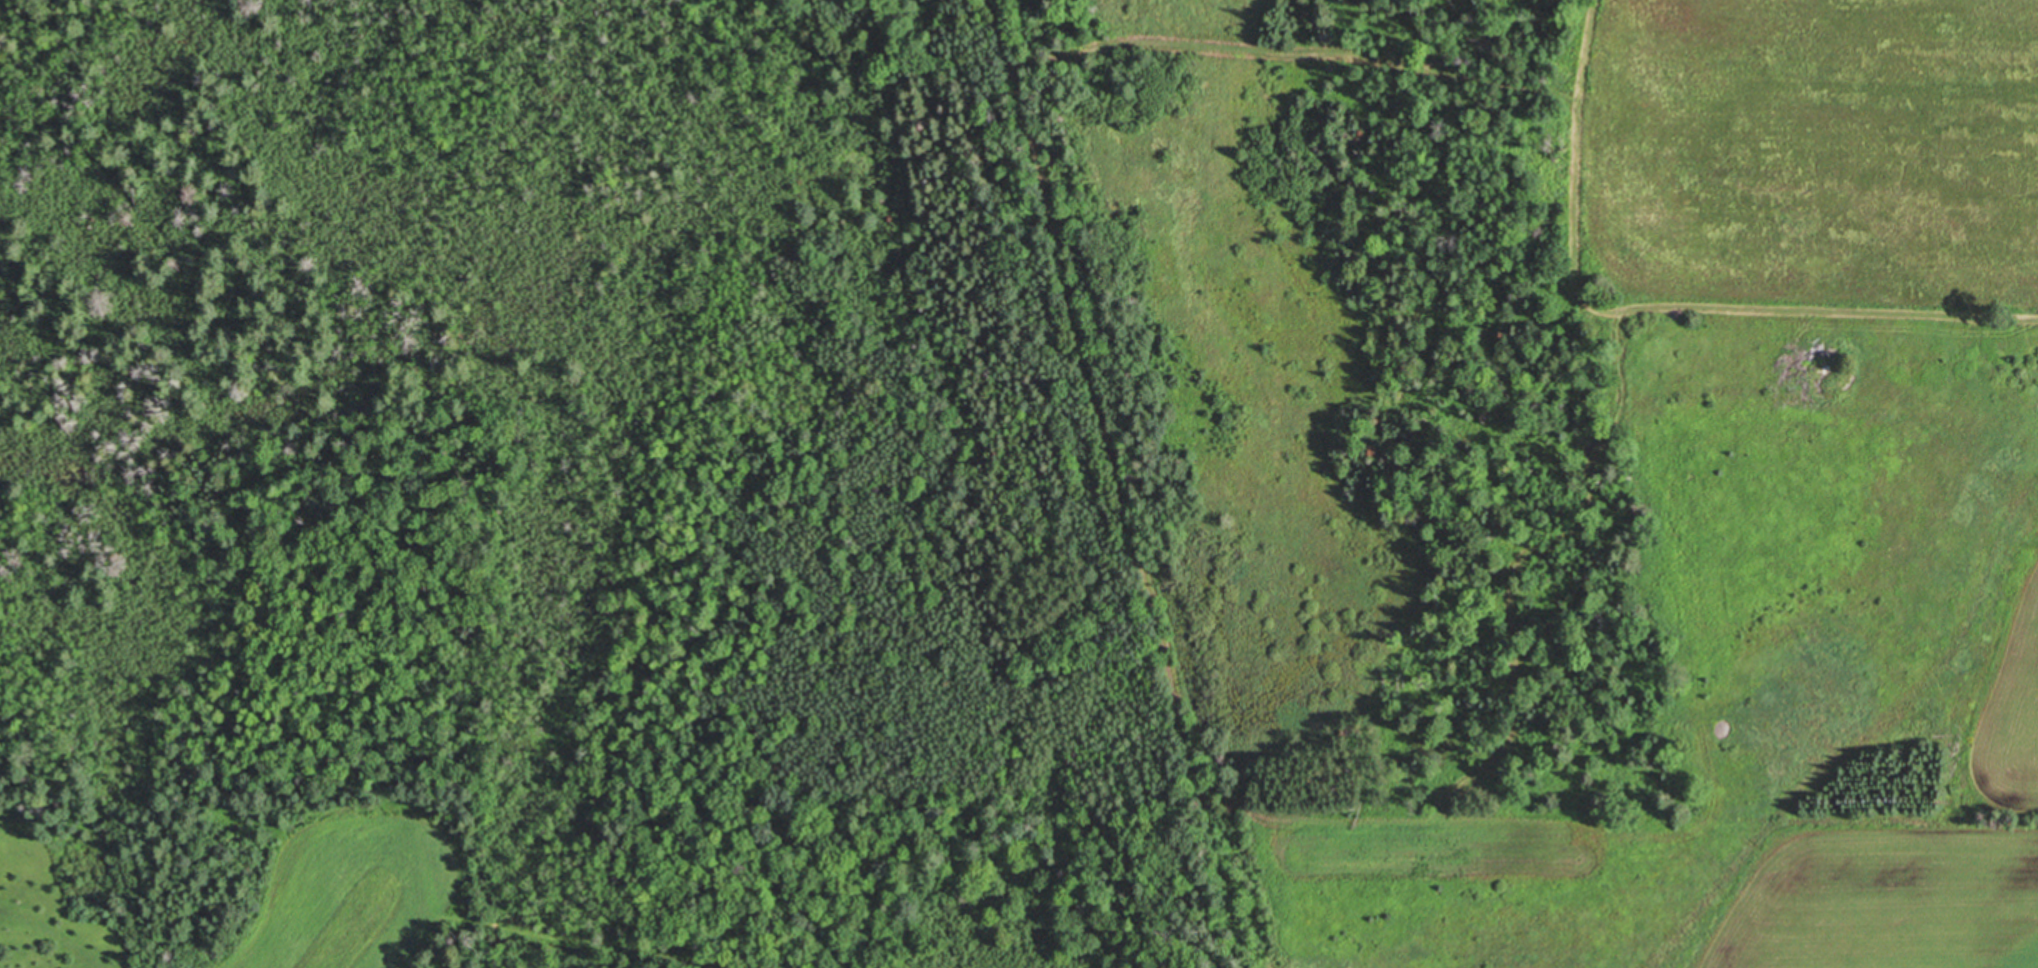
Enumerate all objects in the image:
road: (1120, 484)

